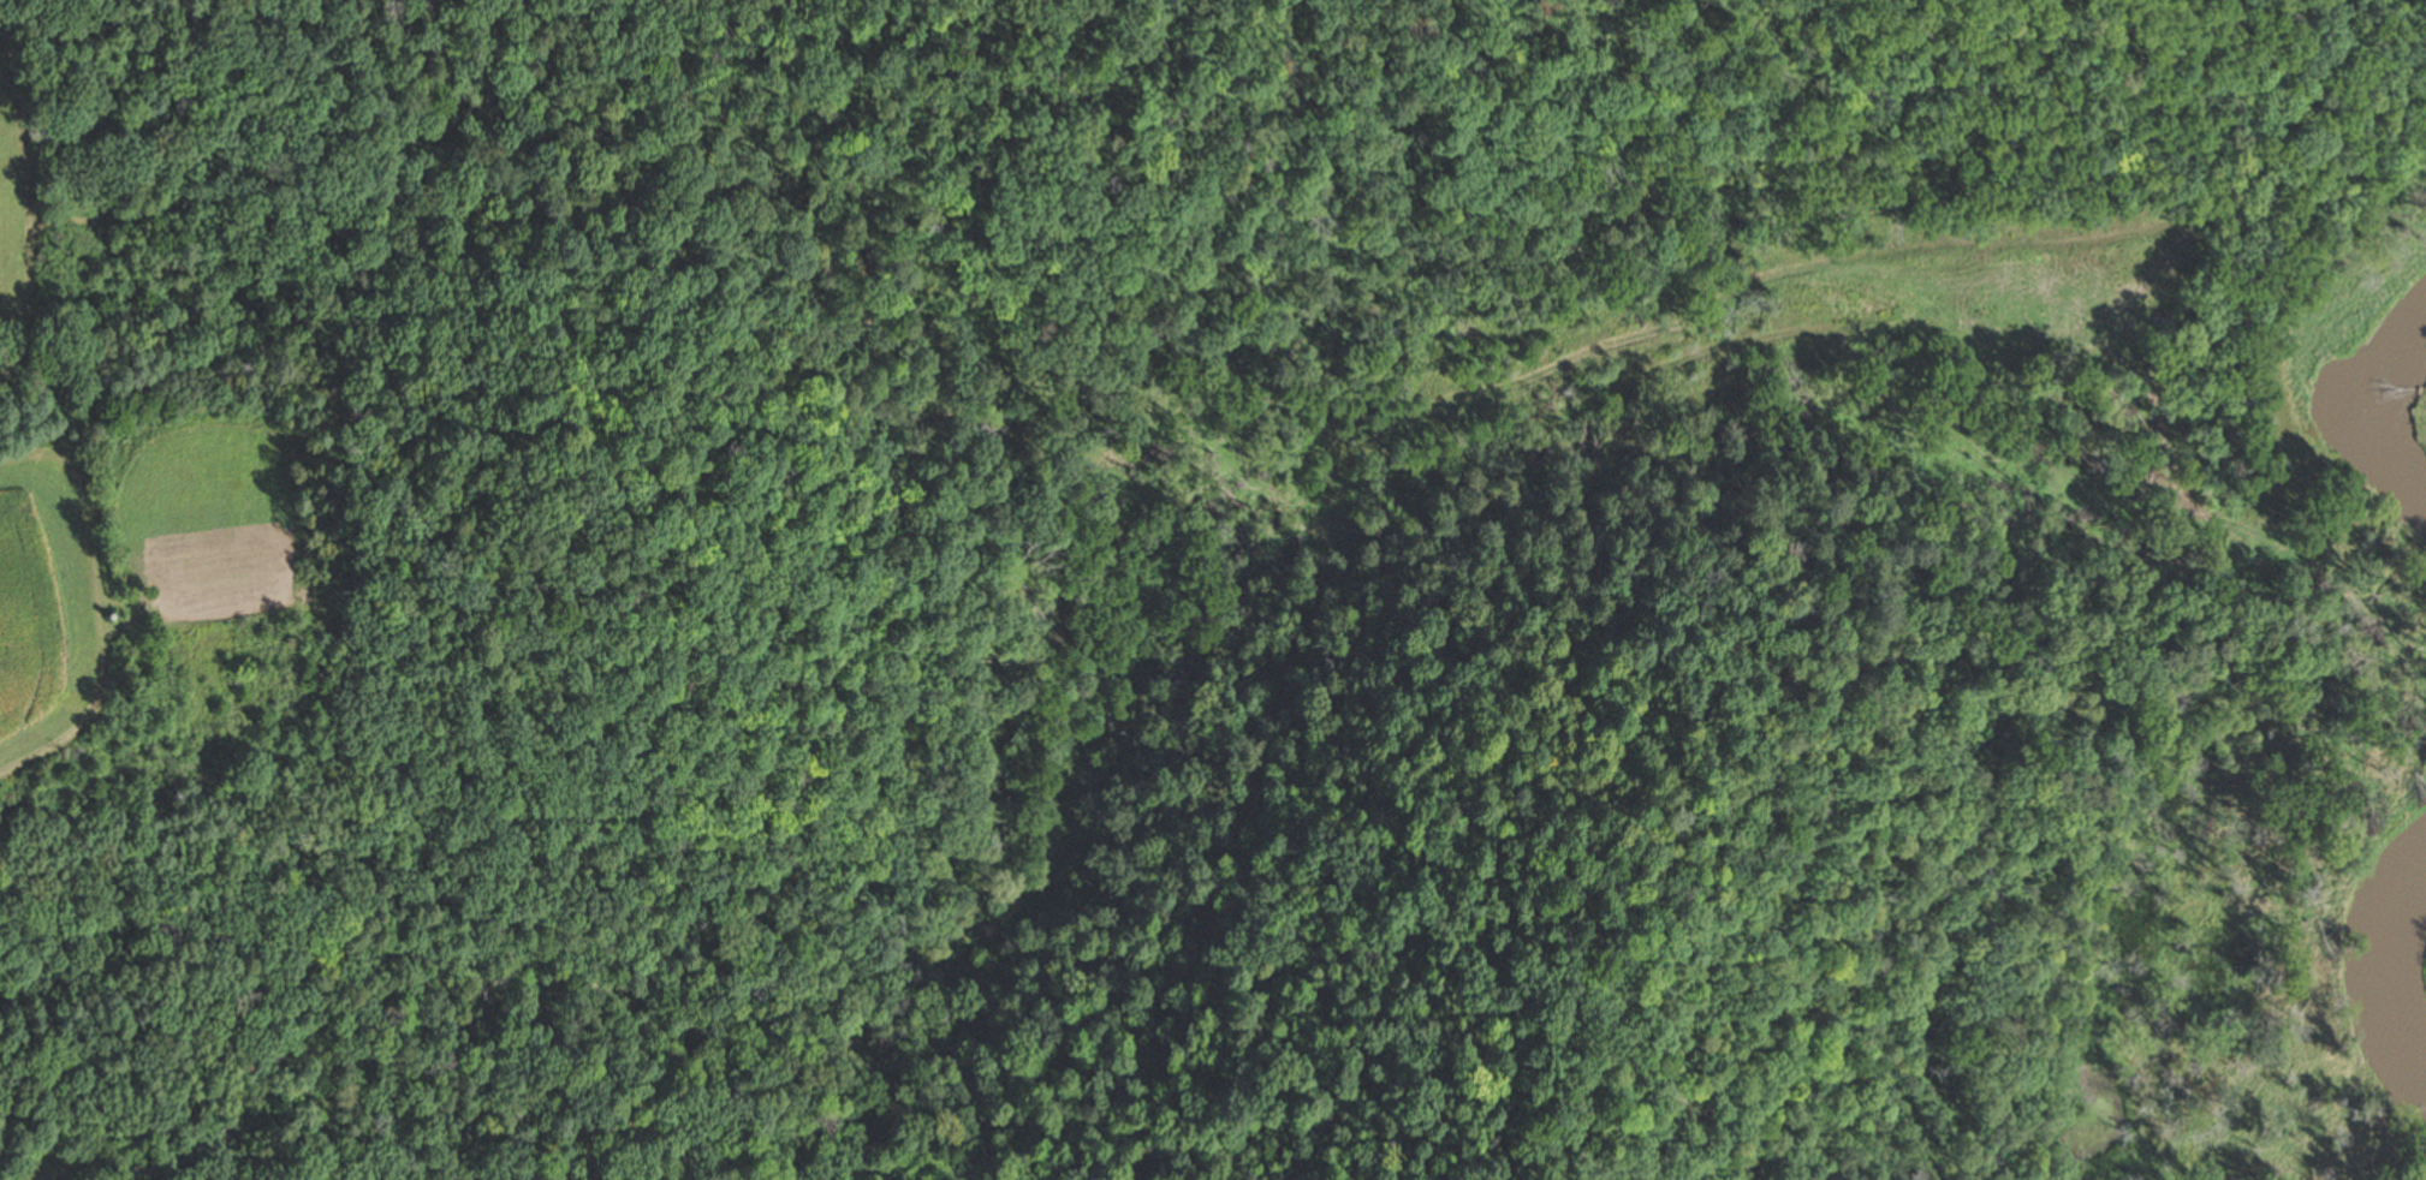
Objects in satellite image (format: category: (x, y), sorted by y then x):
river: (2359, 404)
river: (2385, 952)

